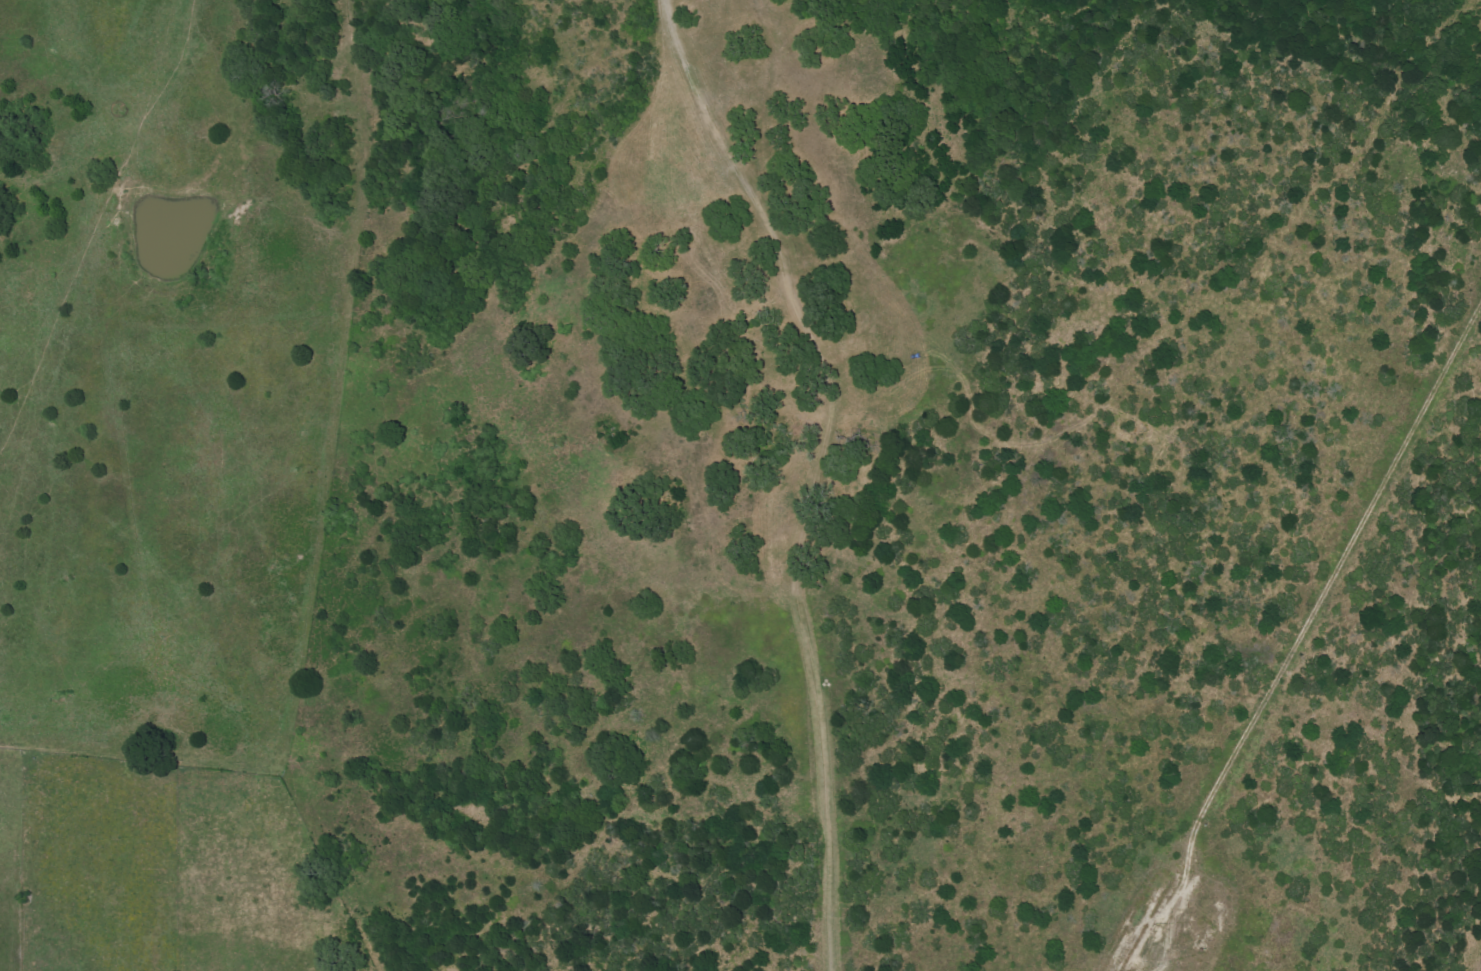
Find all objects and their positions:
road: (816, 388)
park: (865, 454)
road: (1330, 580)

